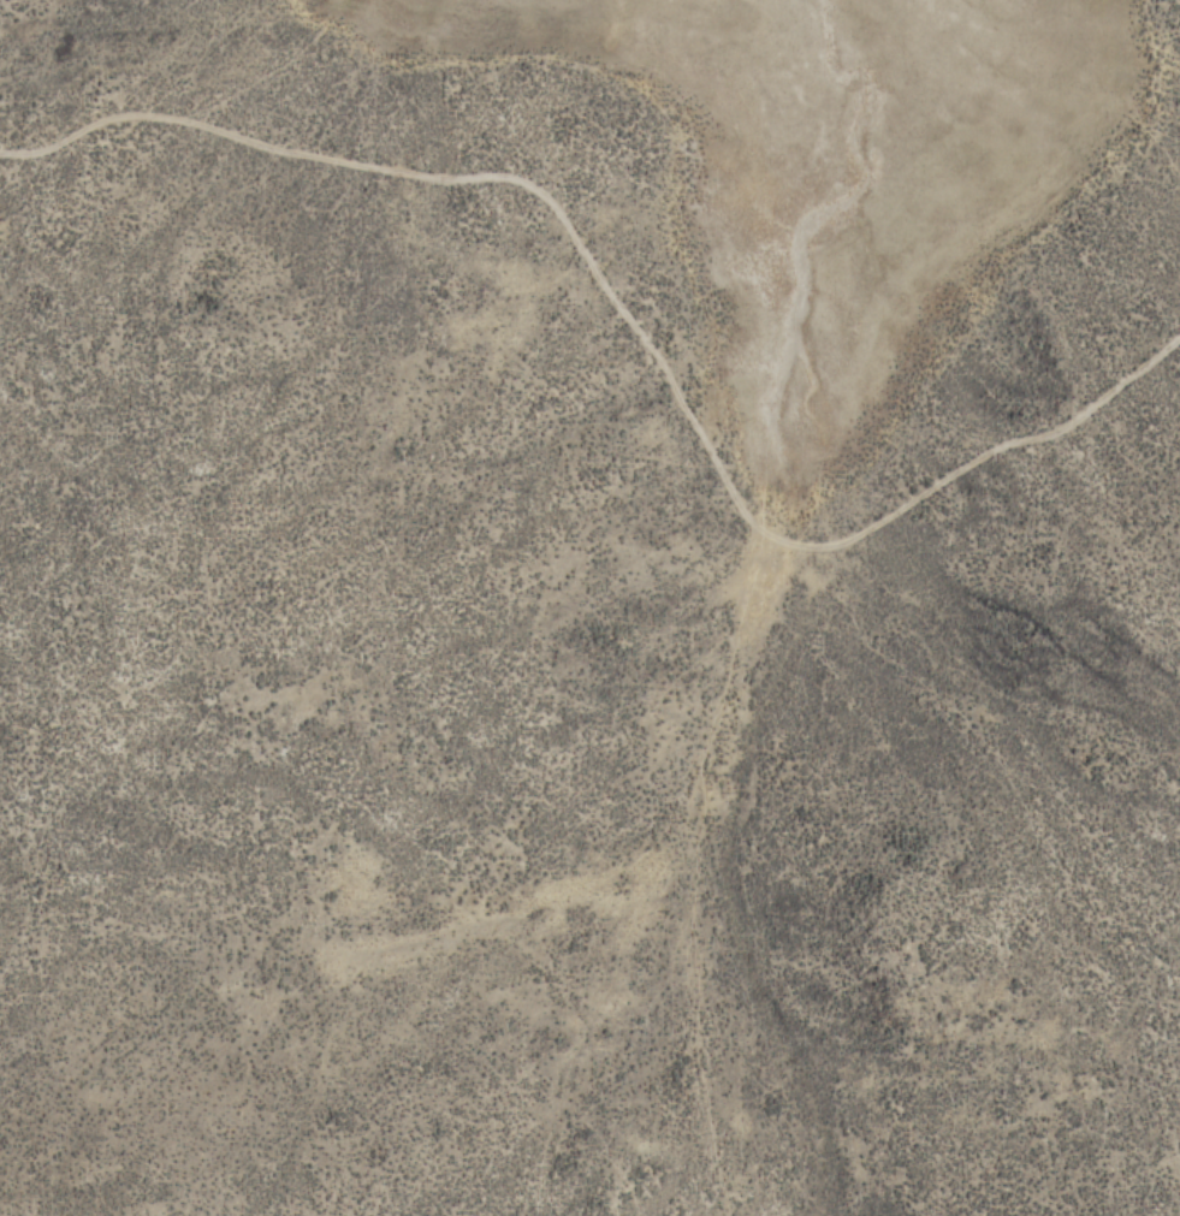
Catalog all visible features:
road: (636, 321)

